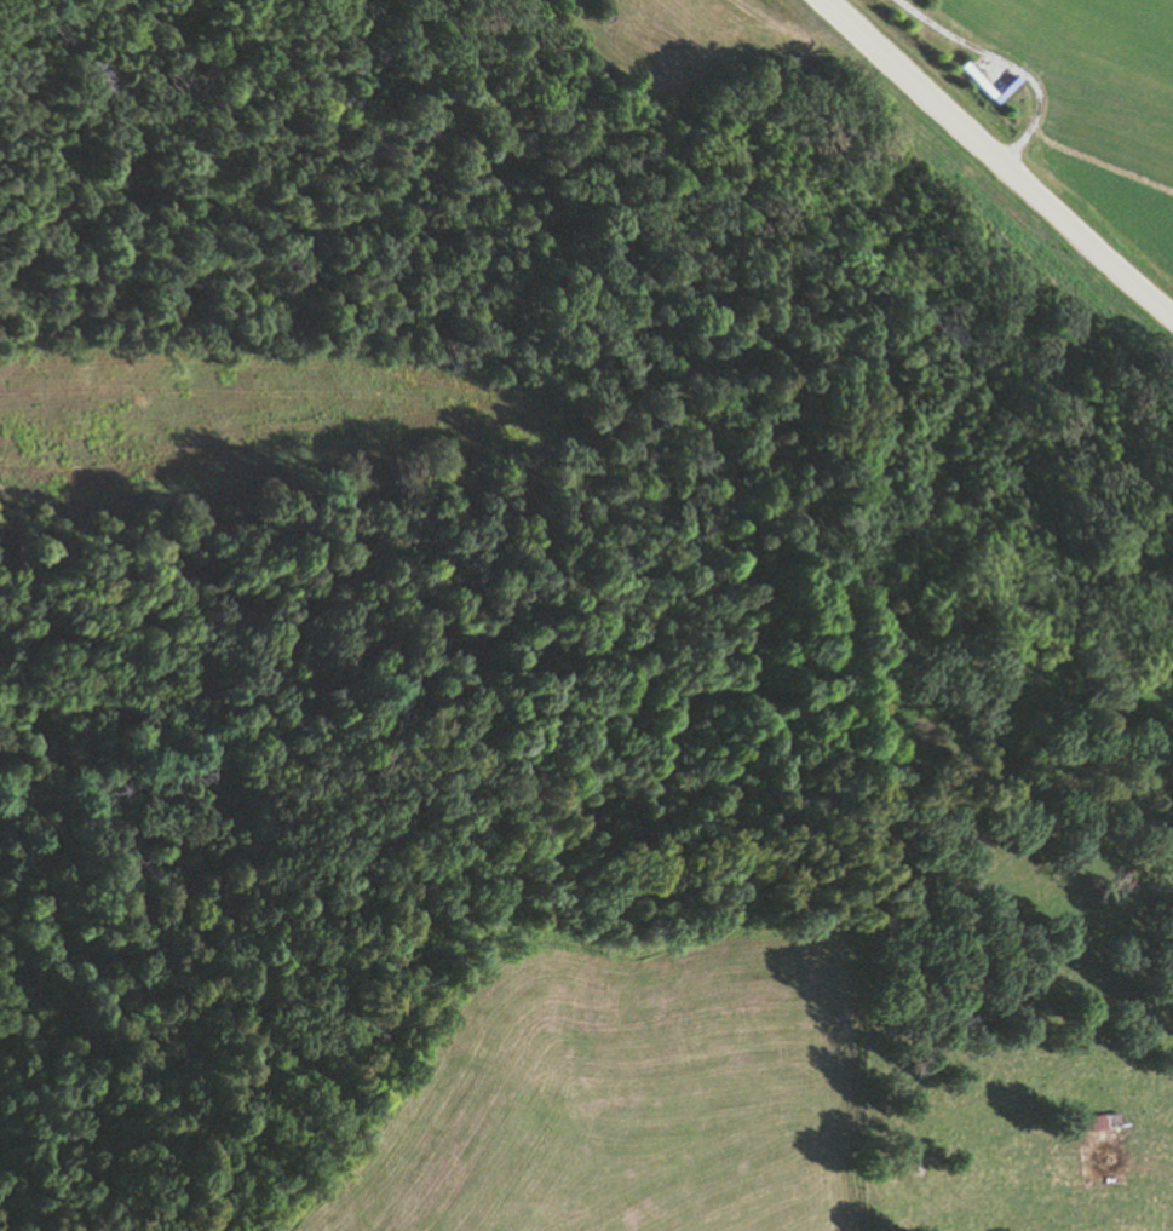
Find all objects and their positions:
road: (997, 161)
building: (1094, 1126)

